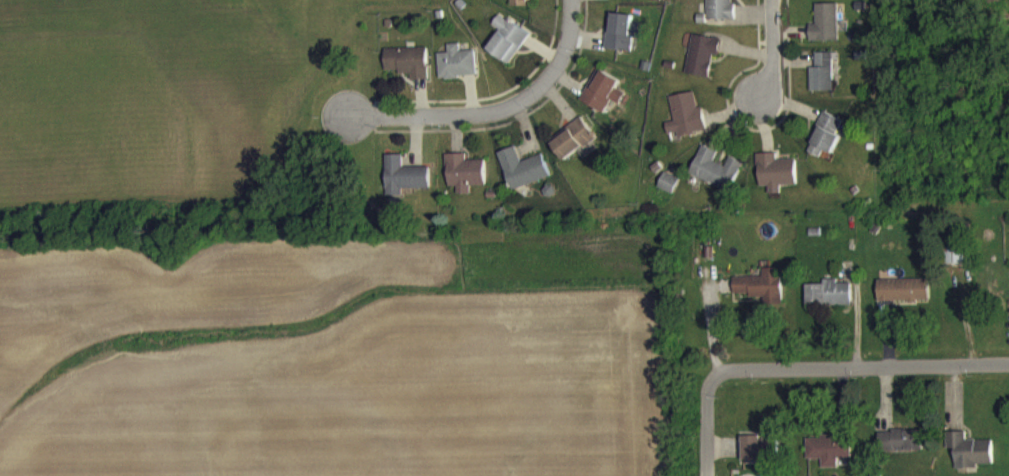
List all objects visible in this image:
building: (819, 0)
building: (619, 3)
building: (519, 8)
building: (720, 15)
building: (826, 33)
building: (622, 42)
building: (507, 49)
road: (778, 50)
road: (566, 55)
building: (702, 65)
building: (408, 71)
building: (456, 73)
building: (823, 82)
building: (602, 102)
road: (445, 113)
building: (685, 125)
building: (826, 145)
building: (573, 149)
building: (523, 179)
building: (715, 179)
building: (465, 183)
building: (776, 183)
building: (405, 186)
building: (668, 193)
building: (957, 263)
building: (762, 296)
building: (903, 300)
building: (828, 304)
road: (856, 370)
road: (704, 425)
building: (901, 451)
building: (759, 458)
building: (829, 458)
building: (970, 460)

